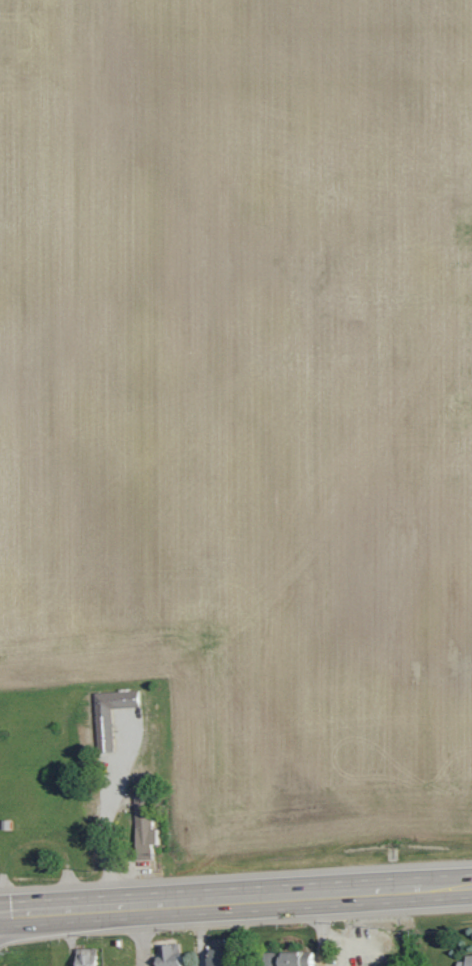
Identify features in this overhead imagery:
building: (109, 714)
road: (106, 823)
building: (143, 828)
road: (235, 900)
road: (321, 931)
road: (199, 934)
road: (140, 936)
building: (216, 952)
building: (170, 955)
building: (85, 957)
building: (288, 958)
building: (466, 961)

